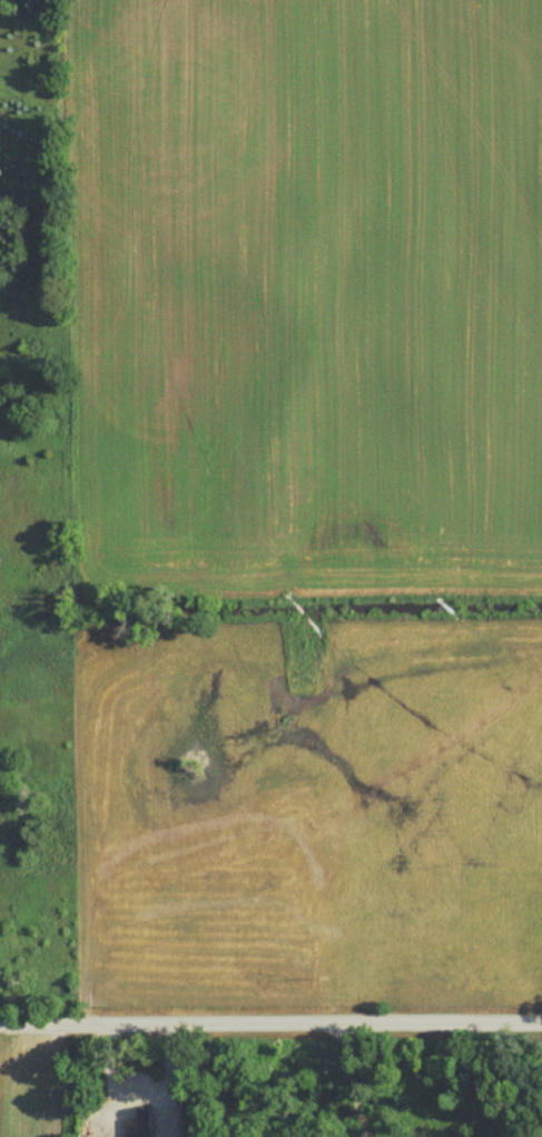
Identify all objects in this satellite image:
road: (270, 1025)
road: (354, 1081)
building: (144, 1125)

